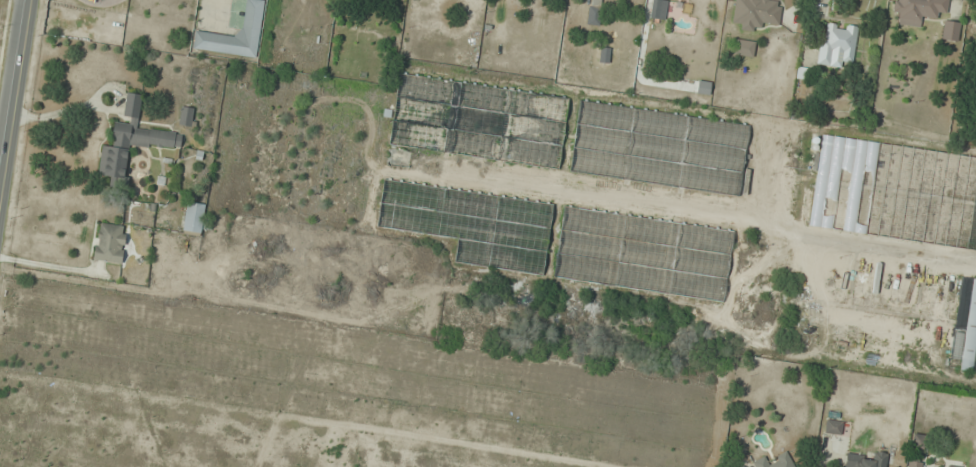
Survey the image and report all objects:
building: (658, 9)
building: (918, 10)
building: (594, 12)
building: (756, 13)
building: (253, 15)
building: (950, 30)
building: (837, 44)
road: (16, 111)
building: (186, 116)
building: (478, 121)
building: (131, 142)
building: (659, 148)
building: (895, 197)
building: (194, 218)
building: (472, 223)
building: (110, 243)
building: (643, 253)
building: (965, 333)
building: (833, 426)
building: (866, 460)
building: (777, 461)
building: (914, 464)
building: (954, 466)

